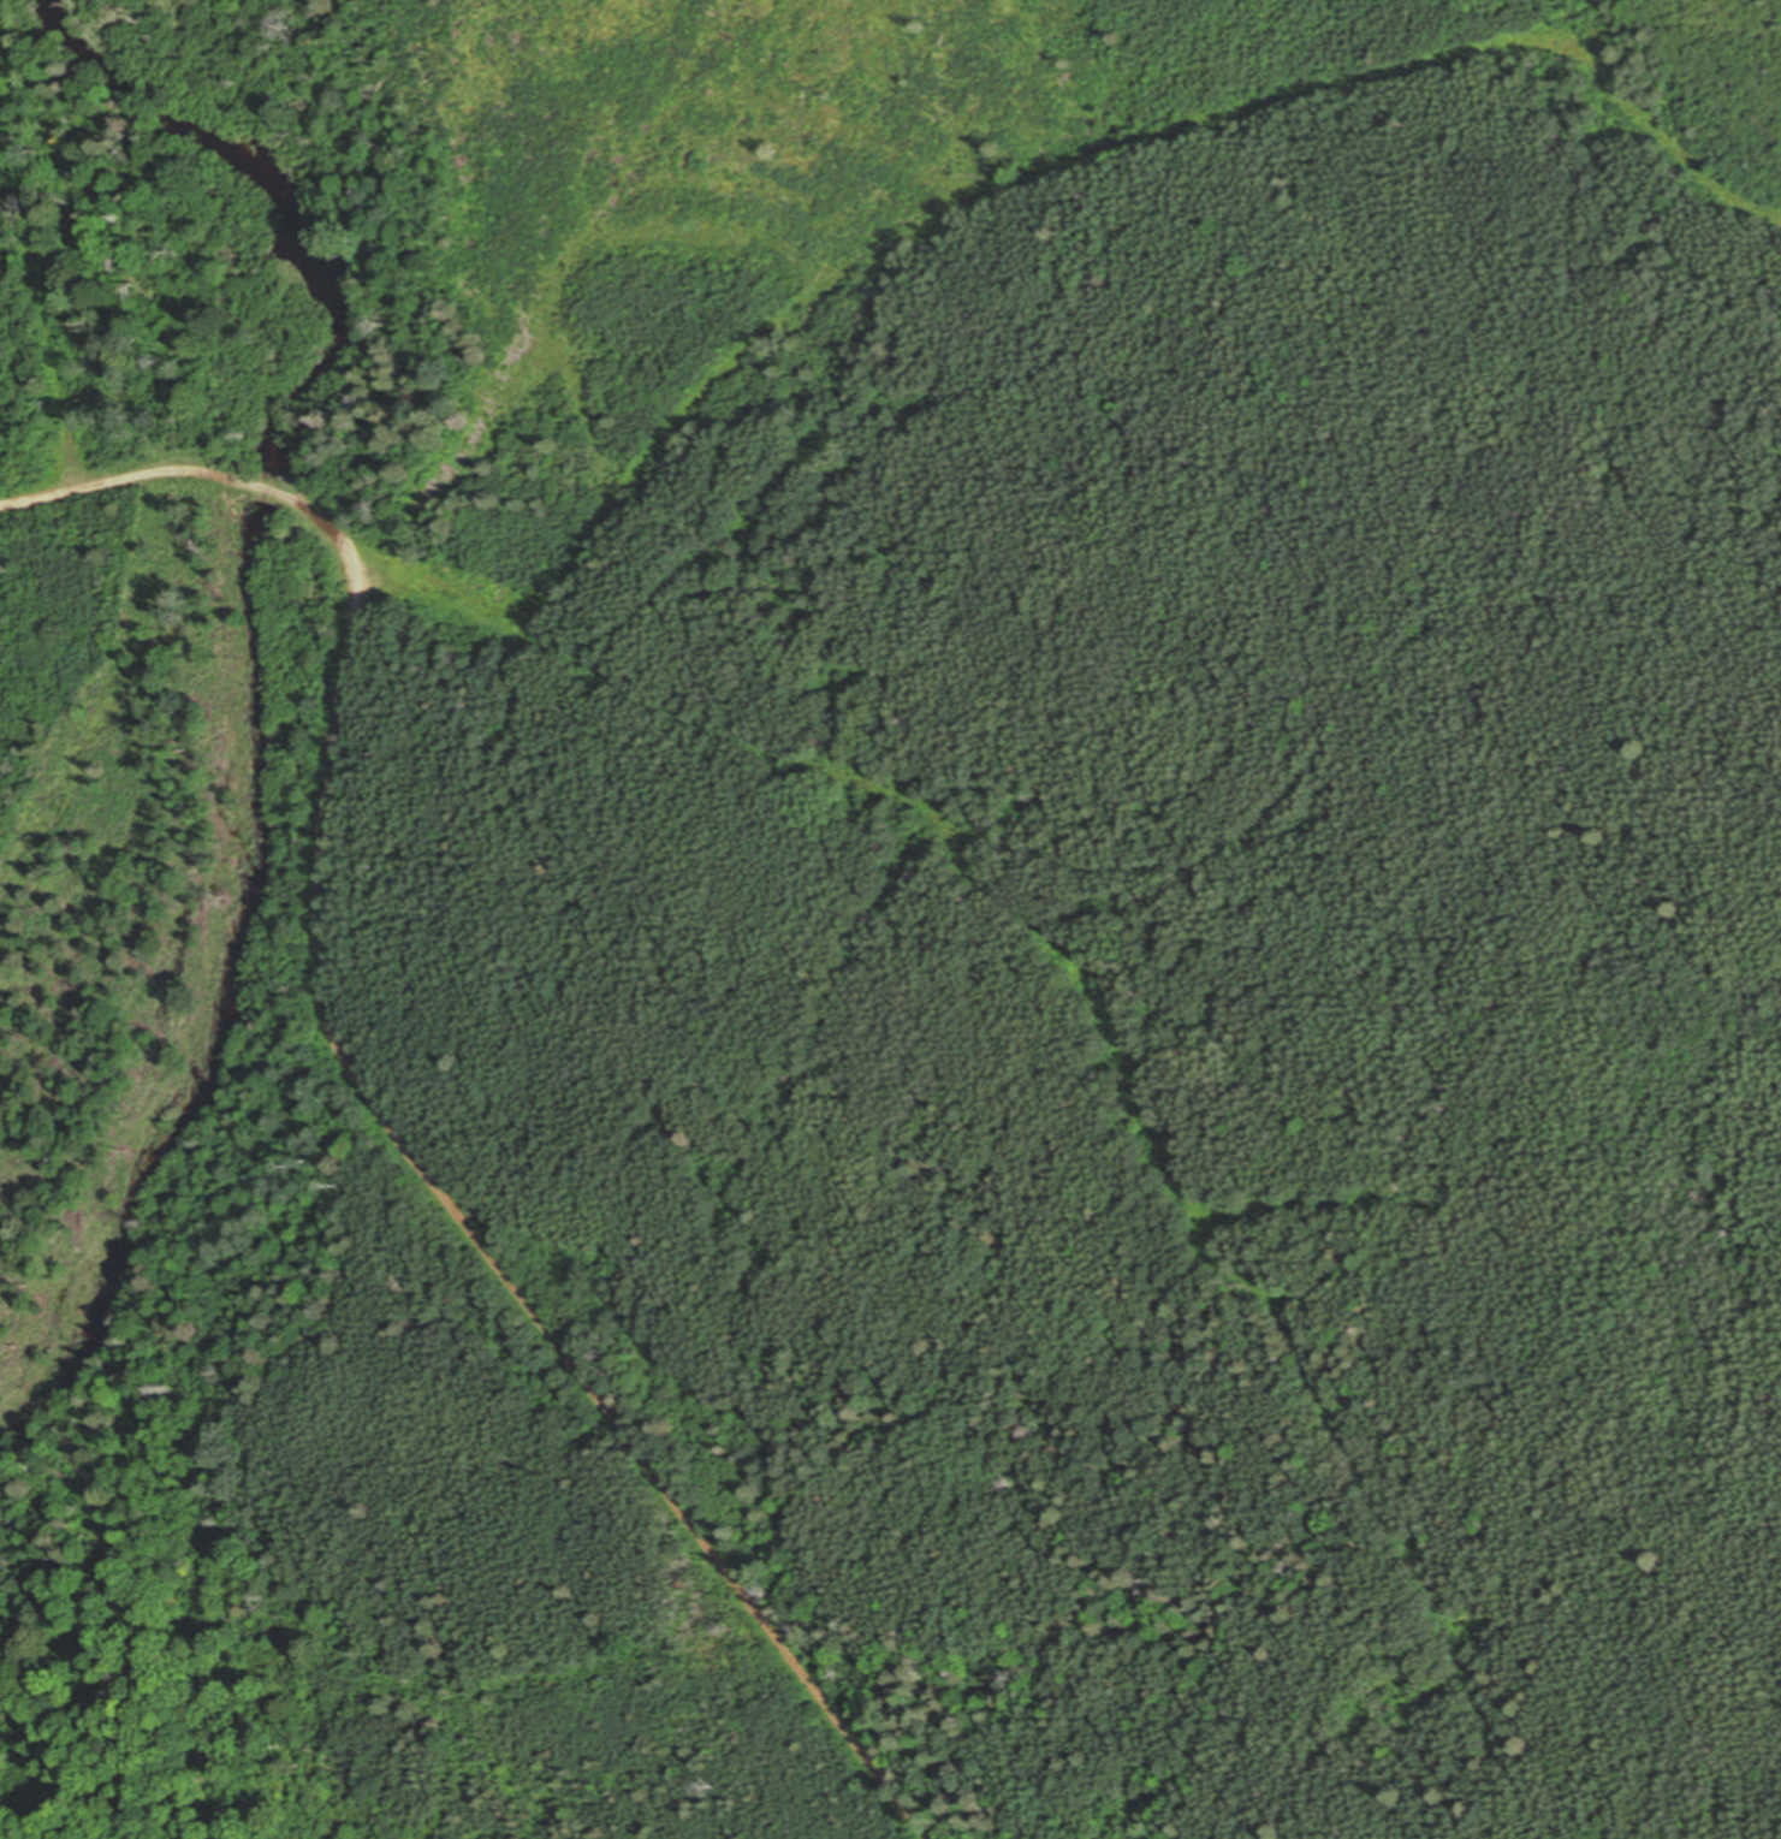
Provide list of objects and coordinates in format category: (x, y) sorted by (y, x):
river: (138, 89)
river: (307, 232)
river: (323, 402)
river: (267, 488)
road: (355, 625)
river: (253, 1020)
road: (642, 1457)

